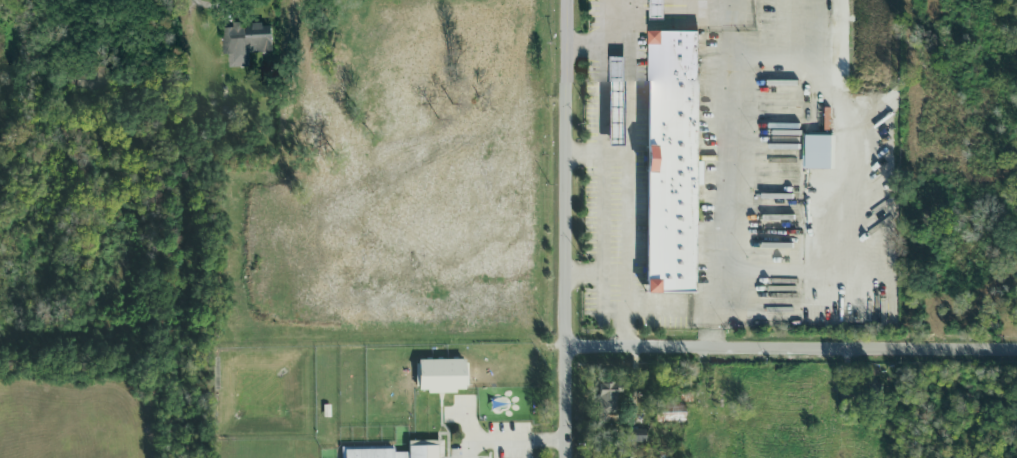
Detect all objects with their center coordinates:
building: (654, 9)
gas station: (653, 10)
building: (244, 41)
road: (585, 43)
building: (88, 79)
building: (614, 100)
gas station: (615, 102)
road: (586, 157)
road: (626, 157)
road: (722, 157)
building: (669, 162)
road: (604, 185)
road: (569, 228)
parking lot: (612, 238)
road: (587, 277)
road: (674, 315)
parking lot: (584, 317)
road: (706, 332)
road: (793, 350)
building: (441, 377)
building: (607, 399)
building: (847, 406)
building: (668, 414)
building: (634, 437)
road: (512, 442)
building: (400, 452)

